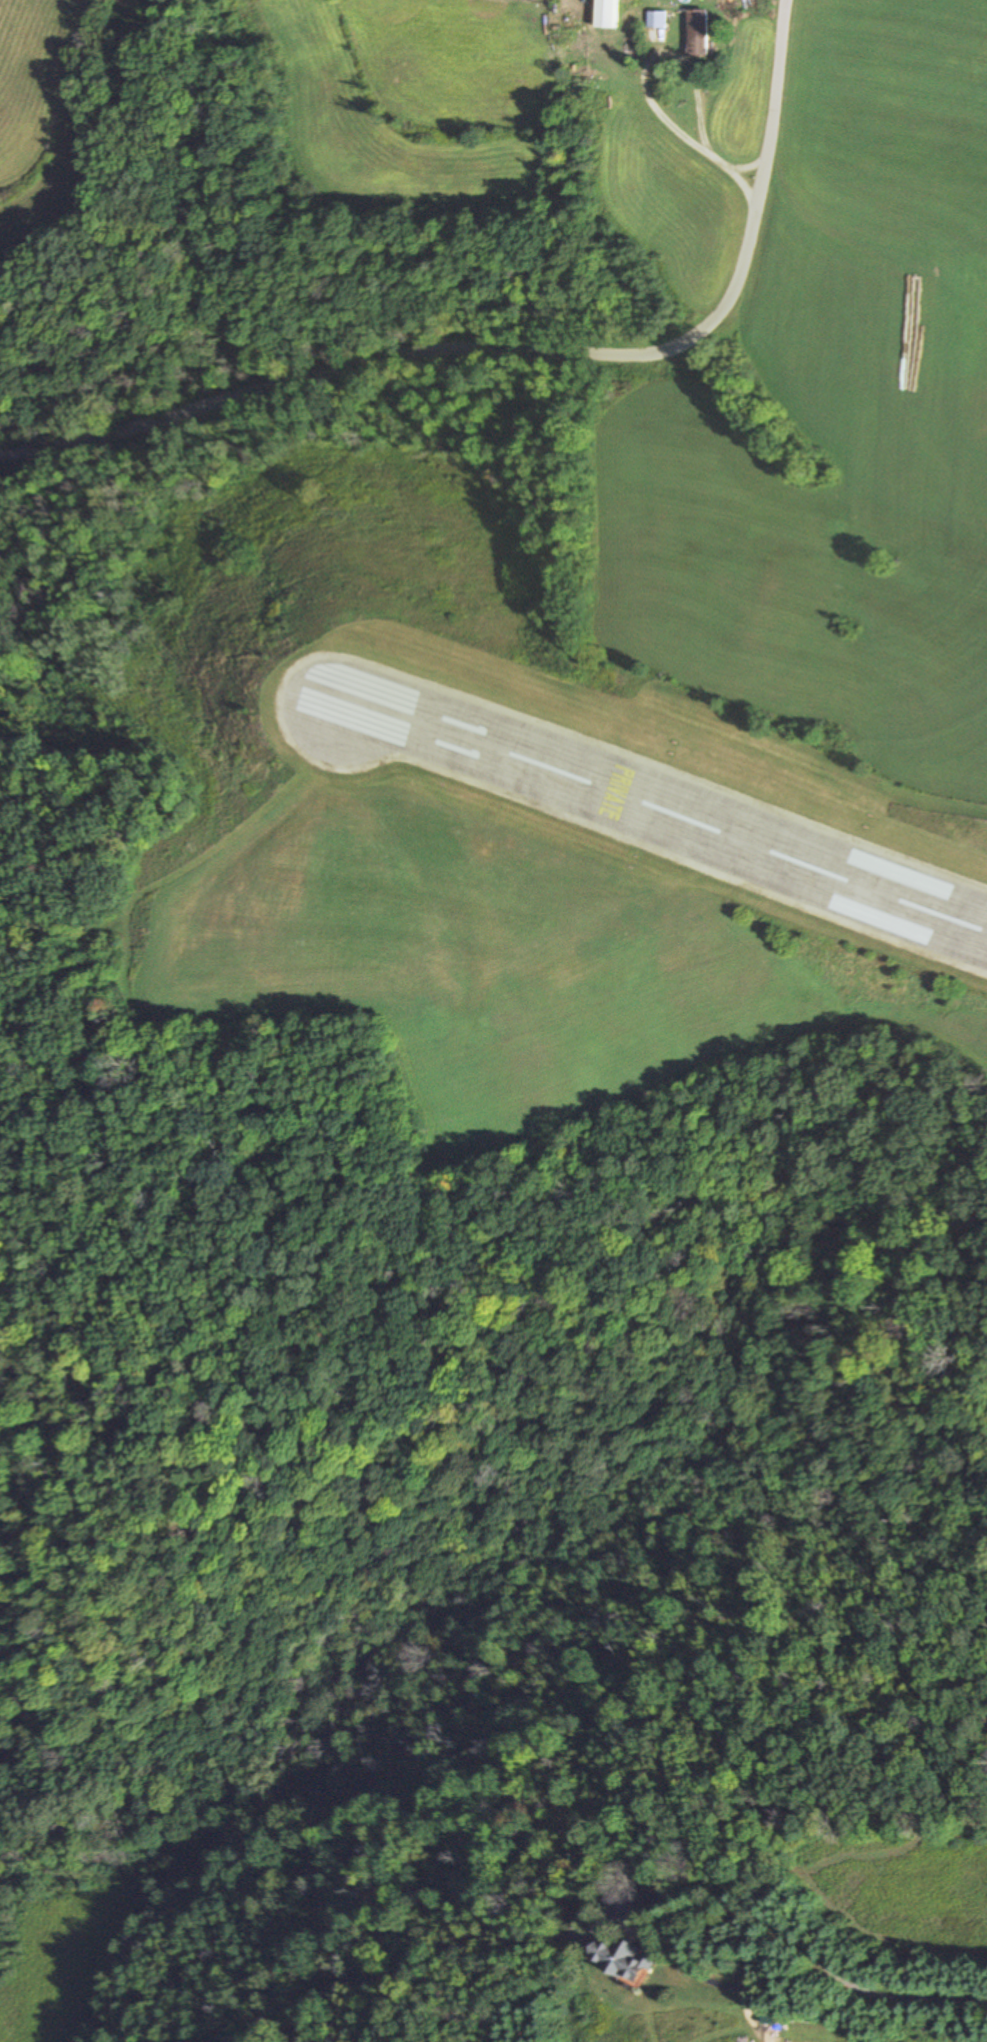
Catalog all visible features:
building: (607, 15)
building: (657, 20)
building: (698, 33)
road: (507, 375)
airport runway: (654, 809)
building: (625, 1958)

